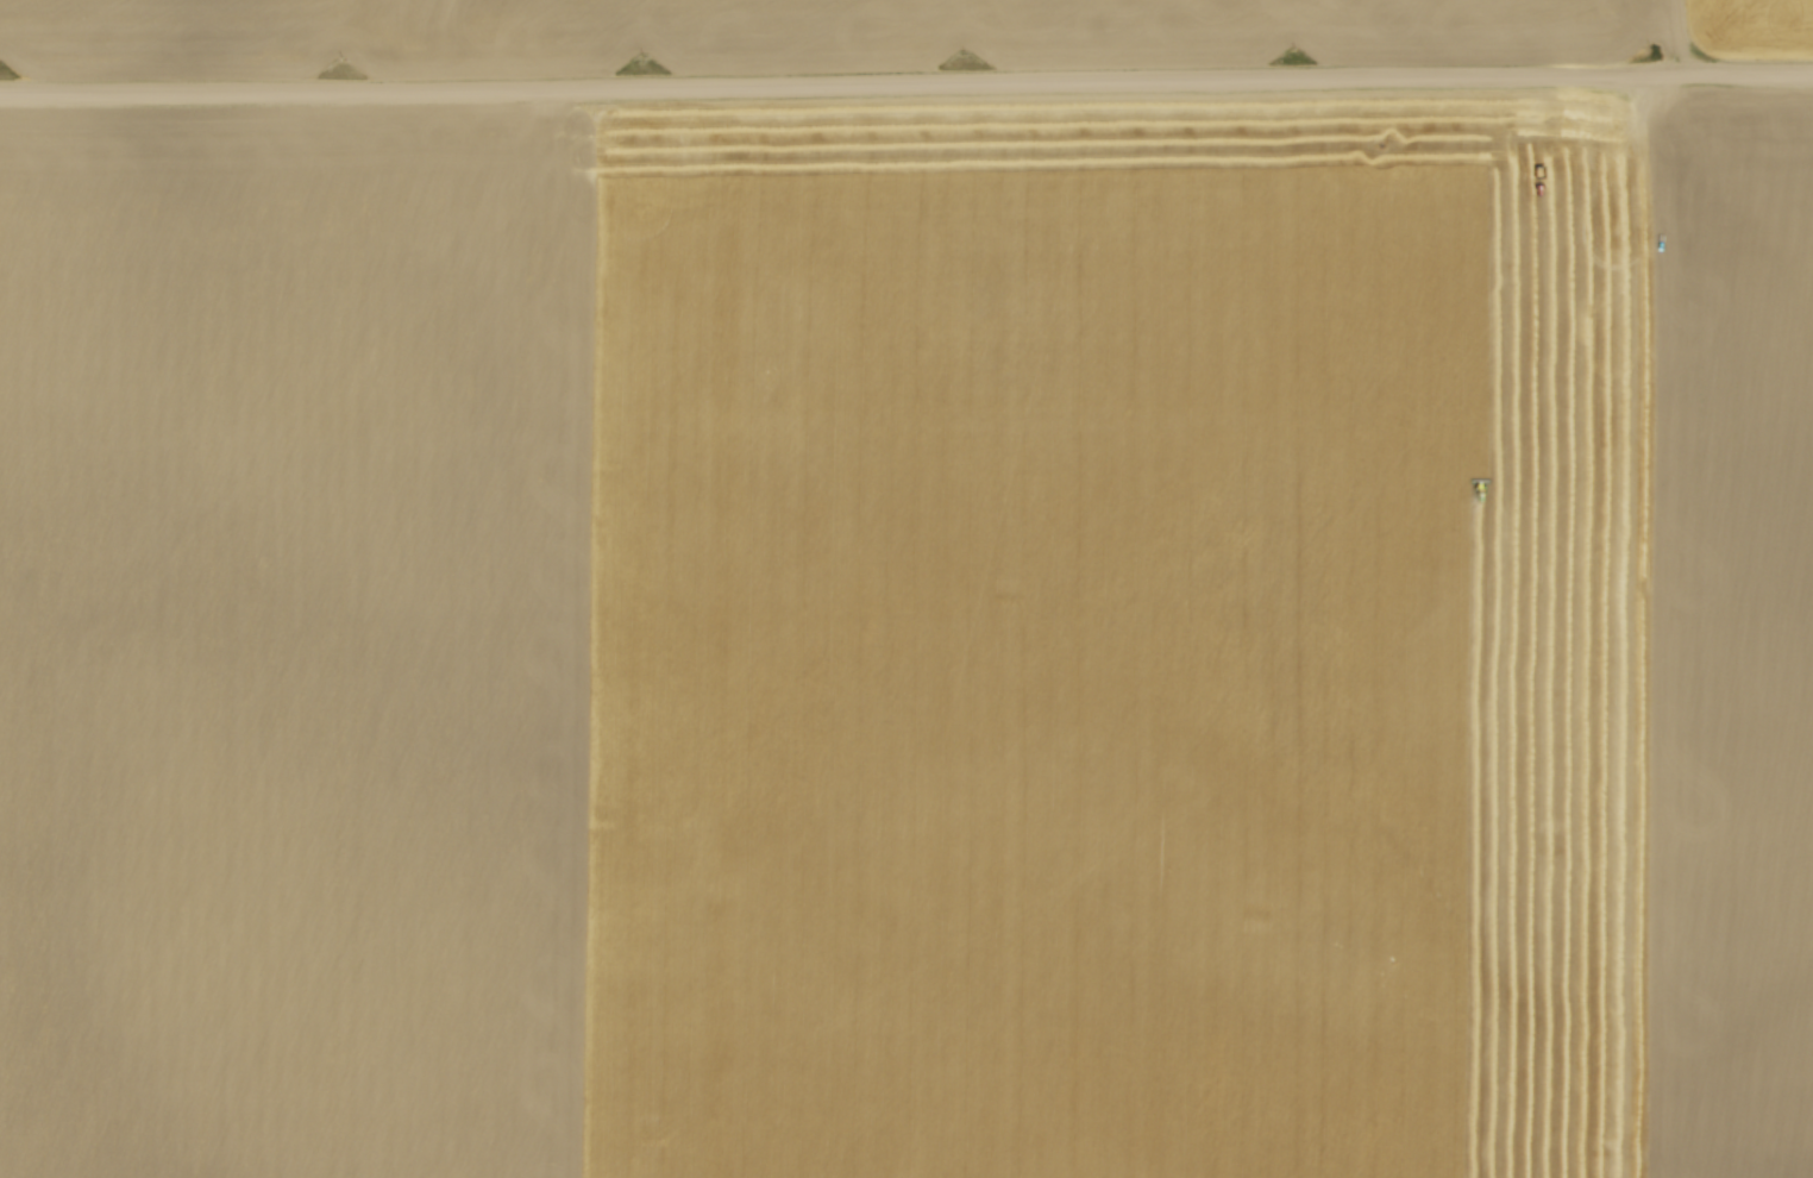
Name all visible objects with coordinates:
crop: (855, 31)
road: (906, 83)
building: (1610, 198)
road: (1644, 625)
crop: (908, 638)

